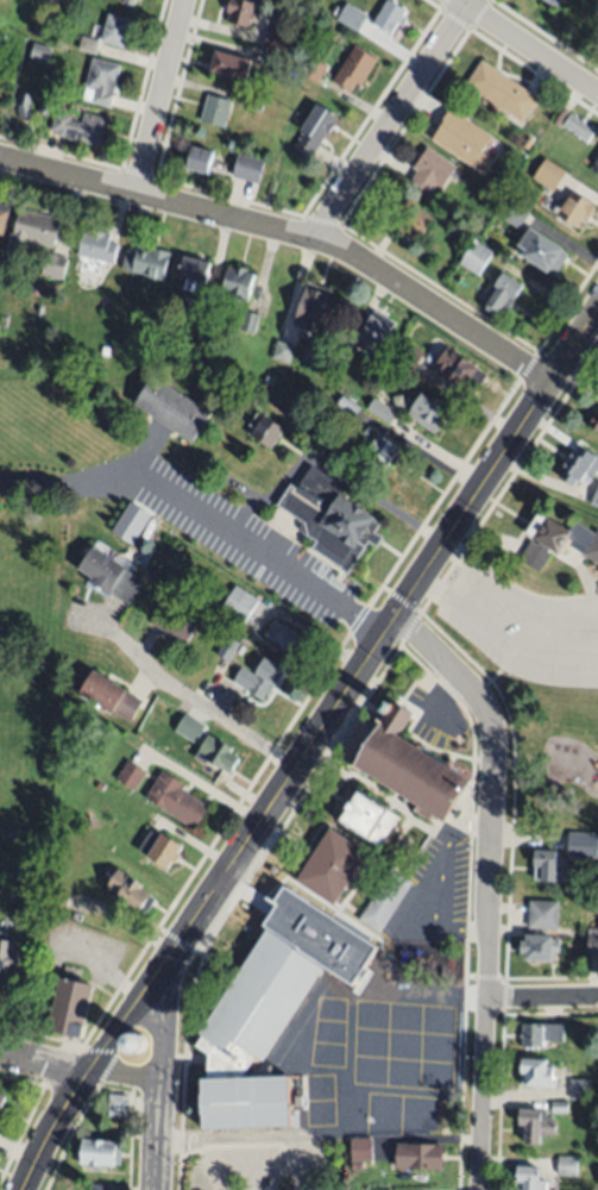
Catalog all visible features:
building: (130, 1)
building: (556, 1)
building: (240, 12)
building: (389, 17)
building: (351, 18)
building: (36, 30)
building: (115, 31)
building: (1, 39)
building: (278, 39)
building: (88, 44)
road: (527, 46)
building: (38, 51)
building: (278, 62)
building: (229, 64)
building: (313, 69)
building: (353, 69)
building: (102, 81)
building: (502, 90)
road: (159, 96)
building: (23, 104)
building: (253, 105)
building: (215, 111)
building: (560, 117)
road: (389, 119)
building: (80, 126)
building: (579, 127)
building: (314, 132)
building: (462, 139)
building: (195, 162)
building: (596, 165)
building: (245, 170)
building: (430, 170)
building: (548, 173)
building: (573, 209)
building: (516, 213)
building: (2, 214)
building: (410, 218)
building: (31, 231)
road: (289, 234)
building: (96, 245)
building: (542, 252)
building: (476, 256)
building: (146, 262)
building: (53, 267)
building: (189, 270)
building: (234, 287)
building: (502, 294)
building: (204, 308)
building: (311, 308)
building: (14, 320)
building: (248, 321)
building: (372, 336)
building: (102, 350)
building: (344, 350)
building: (282, 351)
building: (307, 356)
building: (410, 356)
building: (460, 371)
building: (171, 408)
building: (345, 409)
building: (380, 411)
building: (426, 415)
building: (593, 424)
building: (267, 431)
building: (377, 450)
building: (578, 466)
road: (32, 481)
building: (594, 500)
building: (328, 521)
building: (127, 526)
road: (228, 537)
building: (556, 544)
building: (105, 577)
road: (514, 595)
building: (239, 603)
building: (176, 624)
building: (285, 638)
road: (372, 645)
road: (501, 645)
building: (227, 649)
road: (336, 653)
building: (212, 664)
building: (259, 678)
building: (105, 699)
road: (181, 699)
building: (204, 746)
road: (332, 752)
building: (399, 768)
building: (131, 776)
building: (100, 785)
building: (176, 800)
building: (365, 823)
building: (578, 841)
building: (592, 845)
building: (160, 847)
building: (550, 866)
building: (326, 871)
road: (489, 883)
building: (130, 892)
building: (39, 900)
building: (384, 900)
building: (58, 901)
building: (543, 914)
building: (27, 915)
building: (593, 942)
building: (540, 947)
building: (7, 959)
road: (99, 962)
road: (530, 981)
road: (542, 1000)
building: (70, 1007)
road: (550, 1017)
building: (306, 1032)
building: (540, 1034)
building: (252, 1038)
road: (58, 1041)
building: (137, 1042)
water tower: (133, 1050)
road: (163, 1061)
building: (537, 1073)
road: (78, 1075)
road: (21, 1082)
road: (77, 1082)
road: (158, 1086)
building: (580, 1089)
road: (114, 1090)
building: (2, 1103)
building: (117, 1106)
building: (560, 1107)
road: (31, 1113)
road: (81, 1120)
building: (536, 1125)
road: (130, 1140)
building: (360, 1148)
building: (99, 1153)
building: (418, 1160)
building: (357, 1165)
building: (567, 1166)
building: (529, 1178)
building: (100, 1186)

